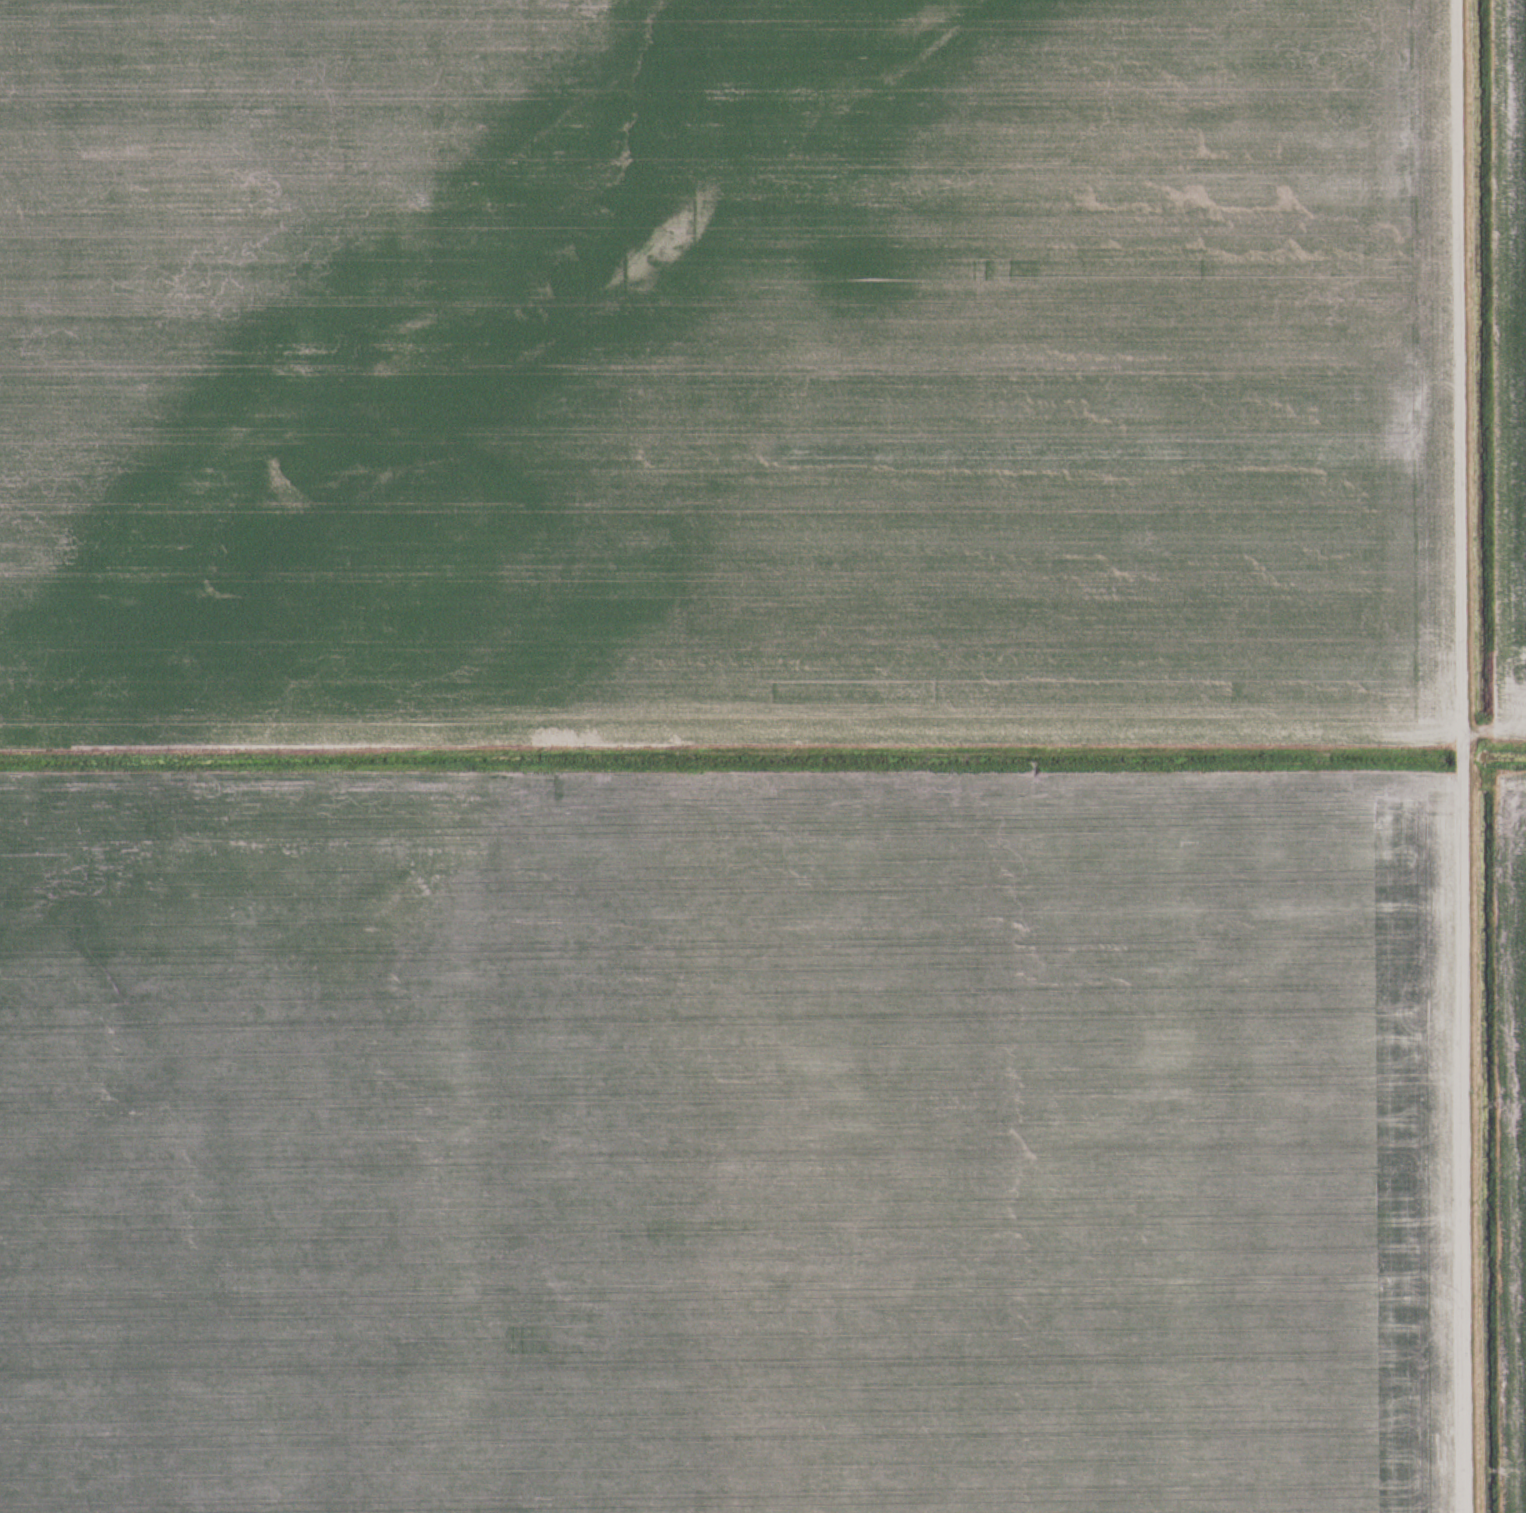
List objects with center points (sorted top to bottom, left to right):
crop: (1510, 336)
road: (1461, 369)
crop: (724, 757)
road: (1468, 1126)
crop: (1512, 1133)

